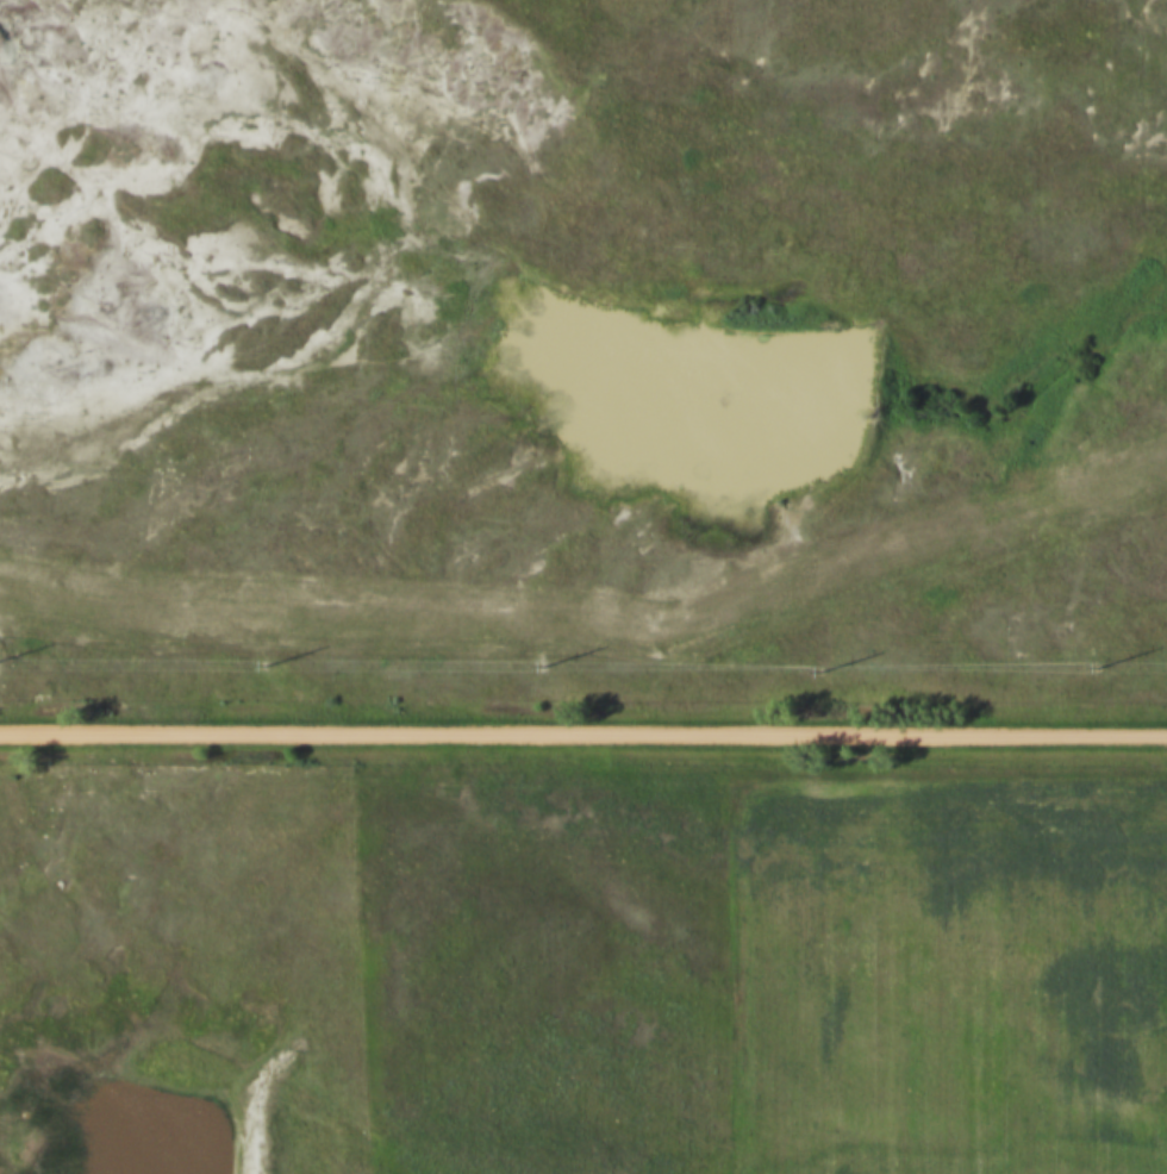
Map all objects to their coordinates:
road: (583, 737)

